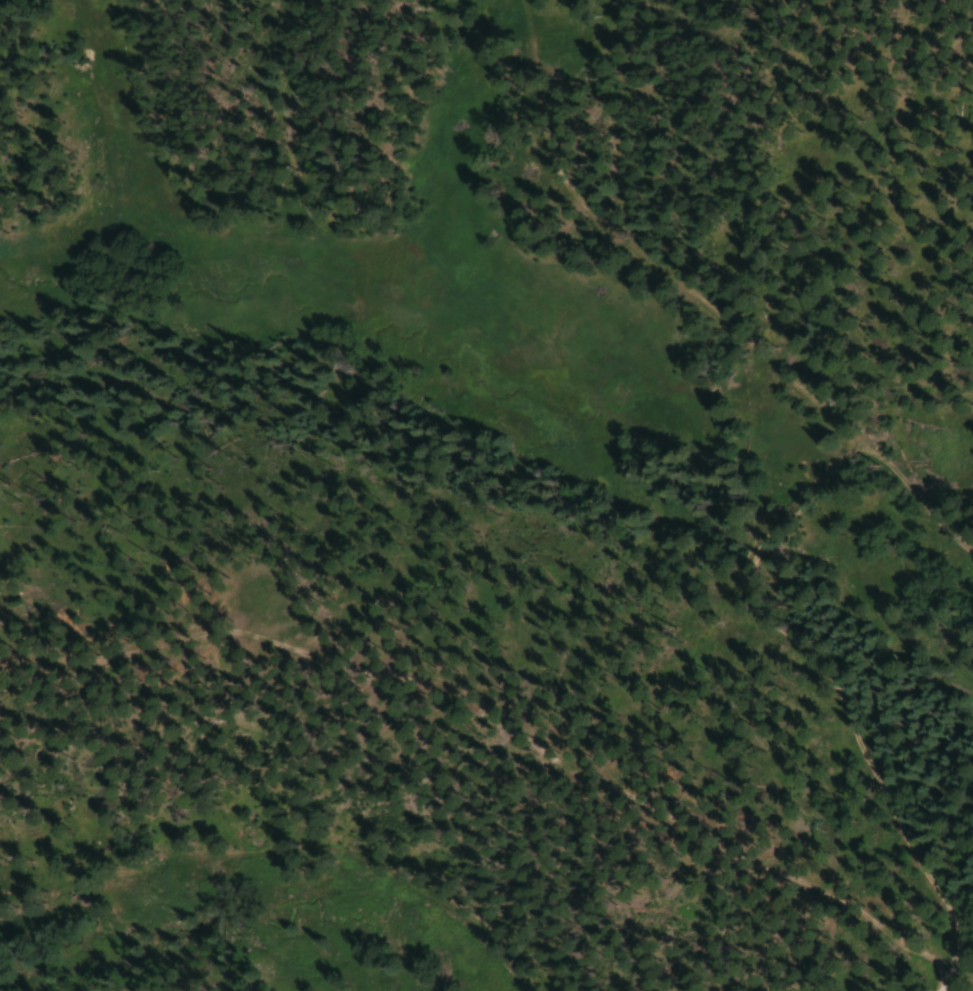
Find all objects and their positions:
road: (136, 979)

